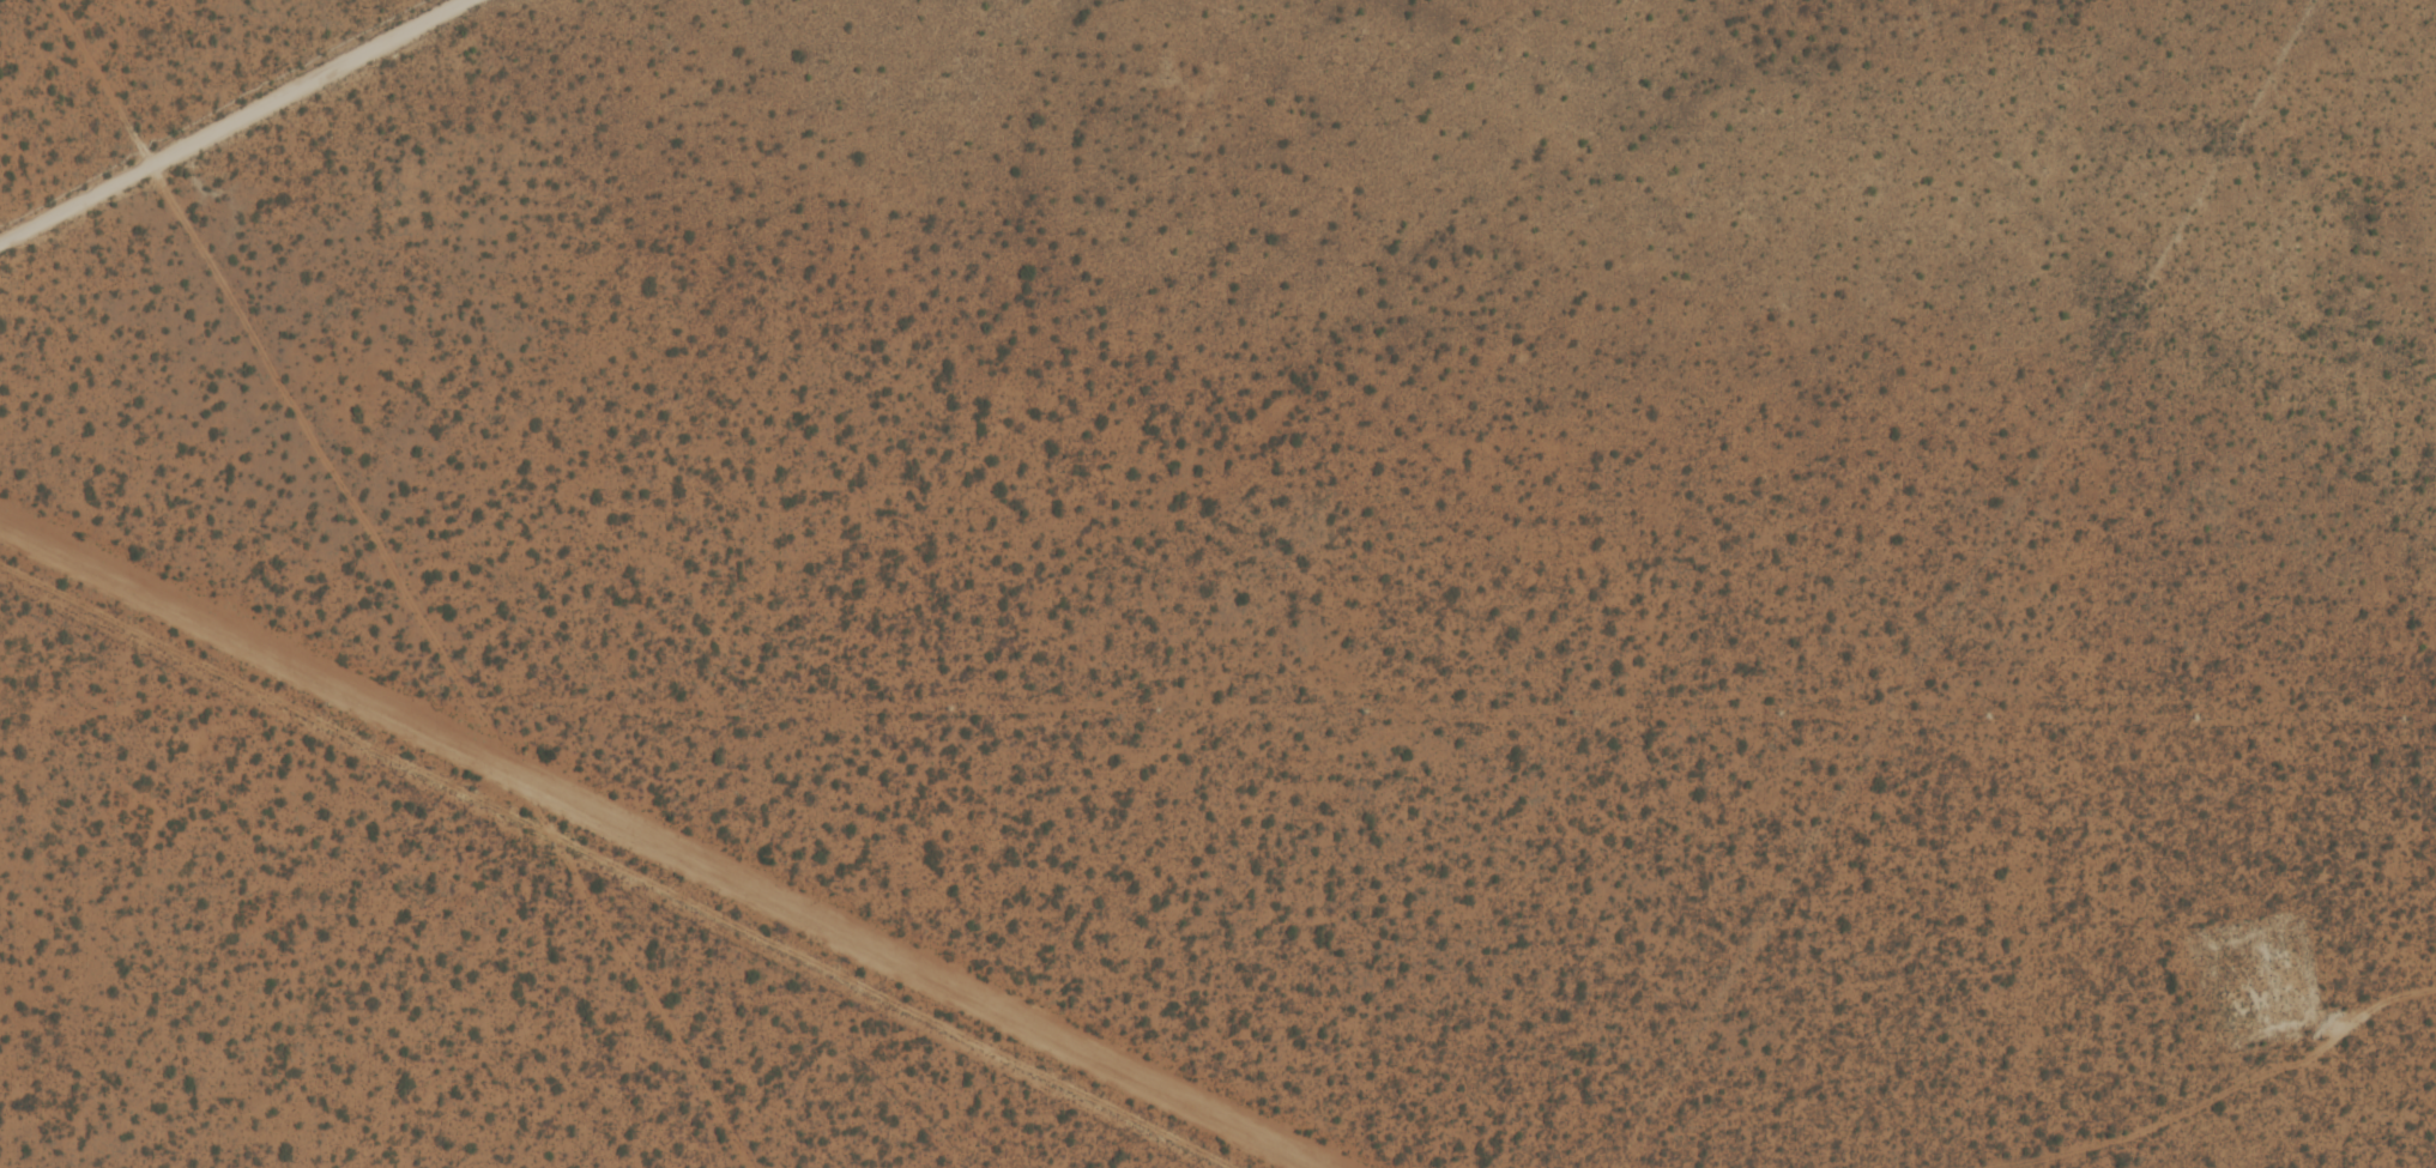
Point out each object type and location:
road: (234, 117)

